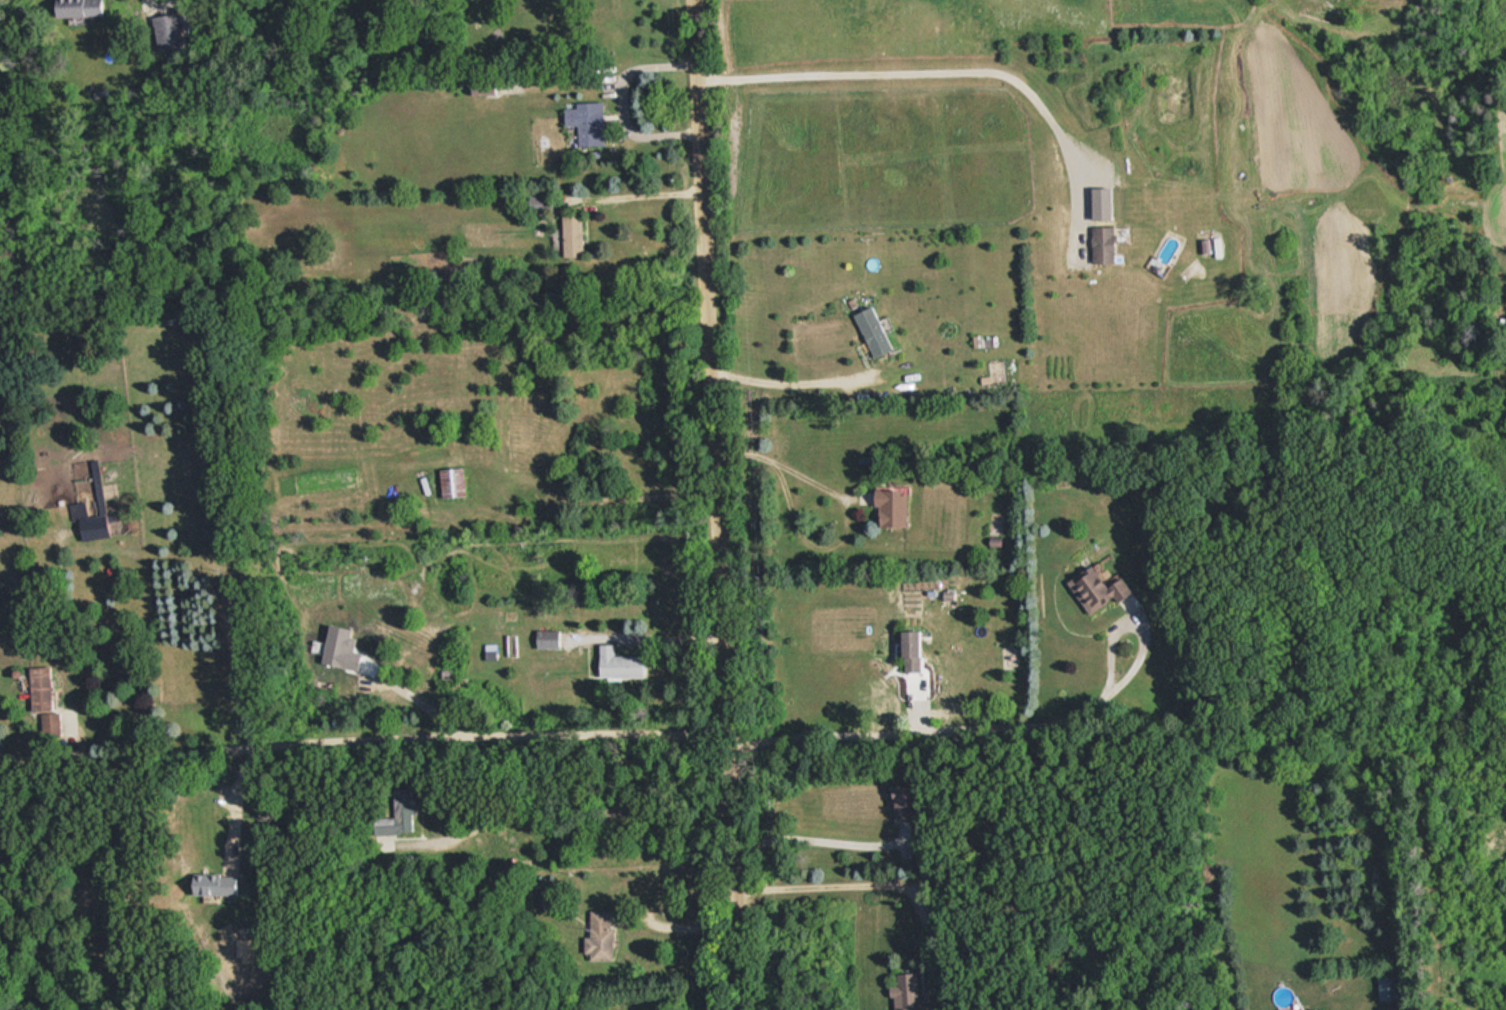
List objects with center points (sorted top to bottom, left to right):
building: (76, 7)
building: (168, 30)
road: (928, 66)
road: (621, 97)
building: (586, 122)
road: (638, 190)
building: (572, 234)
building: (1100, 244)
building: (871, 330)
road: (786, 378)
road: (787, 469)
building: (451, 482)
road: (720, 504)
building: (888, 508)
building: (99, 527)
building: (1094, 589)
road: (668, 636)
building: (549, 637)
building: (915, 648)
building: (620, 662)
building: (43, 687)
building: (52, 724)
road: (1009, 725)
road: (398, 735)
building: (907, 799)
road: (241, 804)
building: (400, 814)
road: (576, 827)
road: (820, 838)
building: (218, 883)
road: (833, 883)
building: (550, 897)
road: (678, 923)
building: (602, 935)
building: (930, 949)
building: (909, 991)
building: (1320, 1009)

